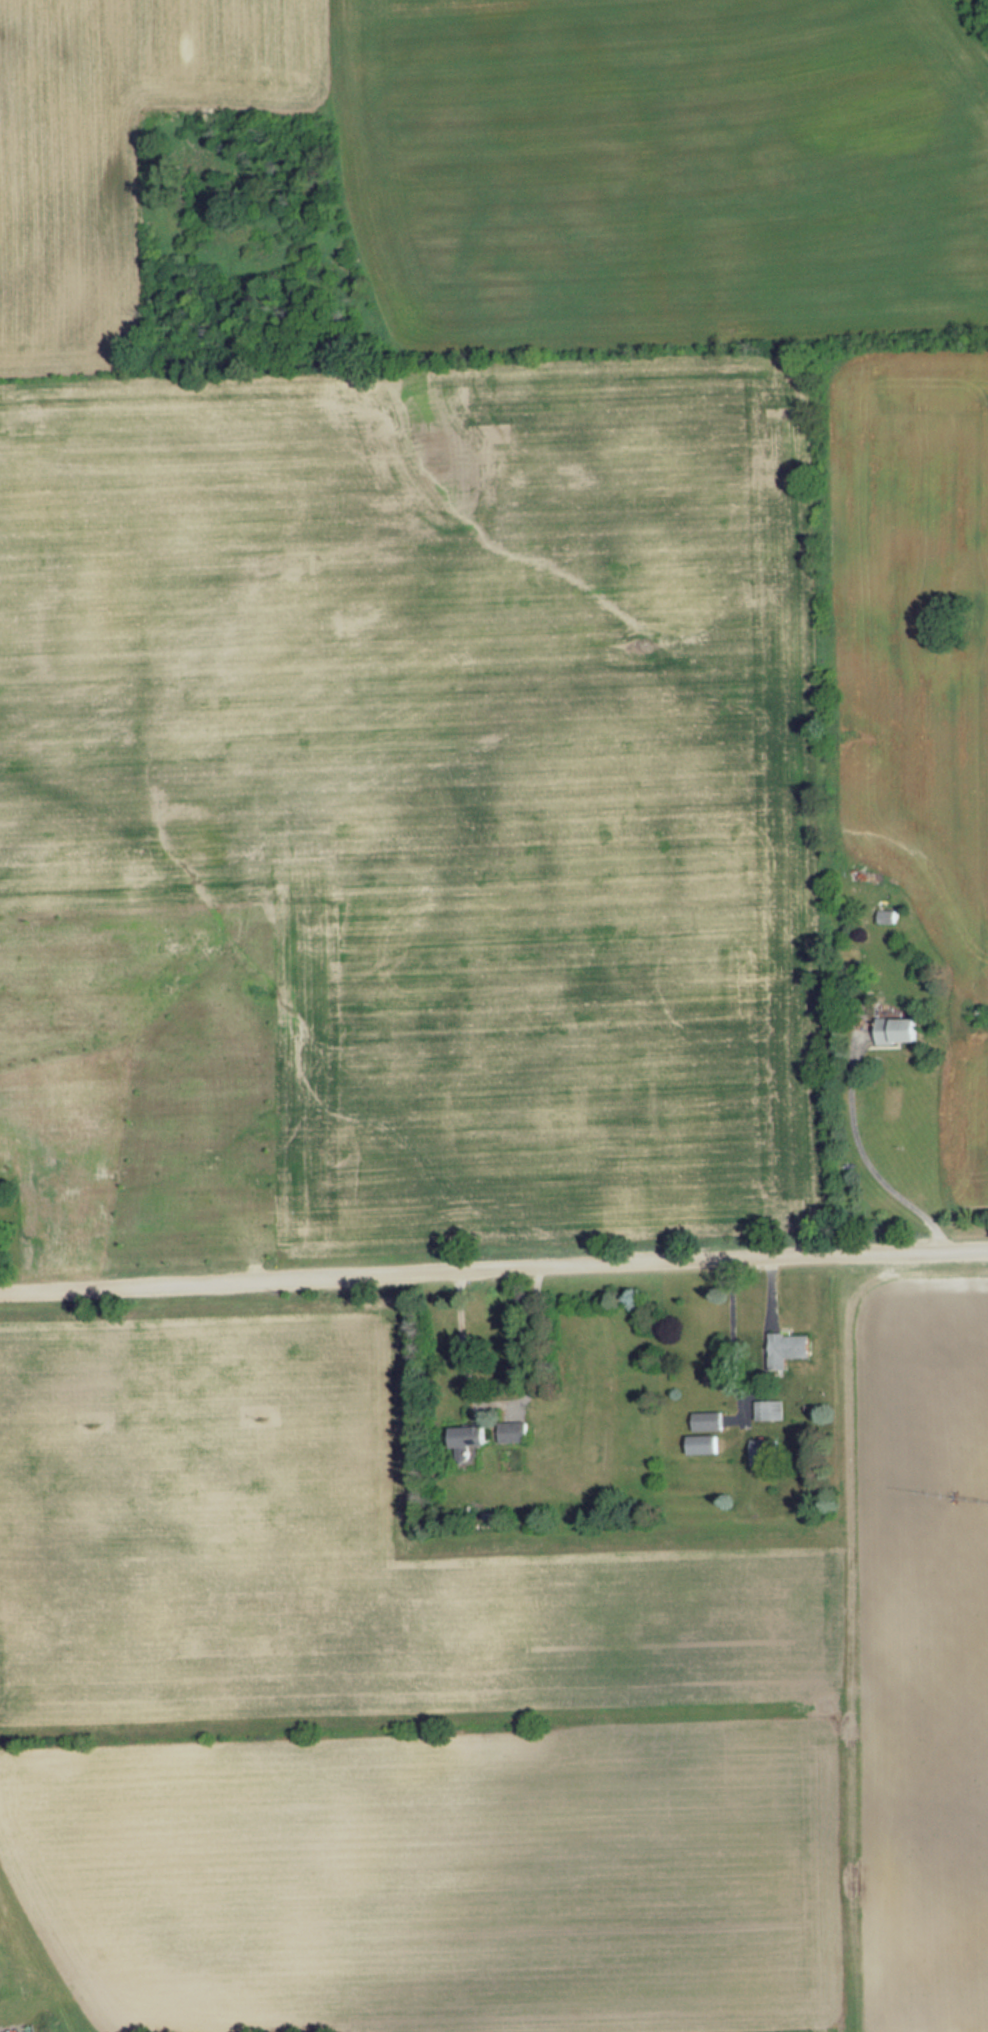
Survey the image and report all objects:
road: (864, 1161)
road: (493, 1268)
road: (766, 1307)
road: (730, 1348)
building: (788, 1348)
road: (465, 1365)
road: (738, 1410)
building: (766, 1410)
building: (707, 1420)
road: (735, 1429)
building: (513, 1432)
building: (473, 1435)
building: (703, 1444)
building: (762, 1451)

